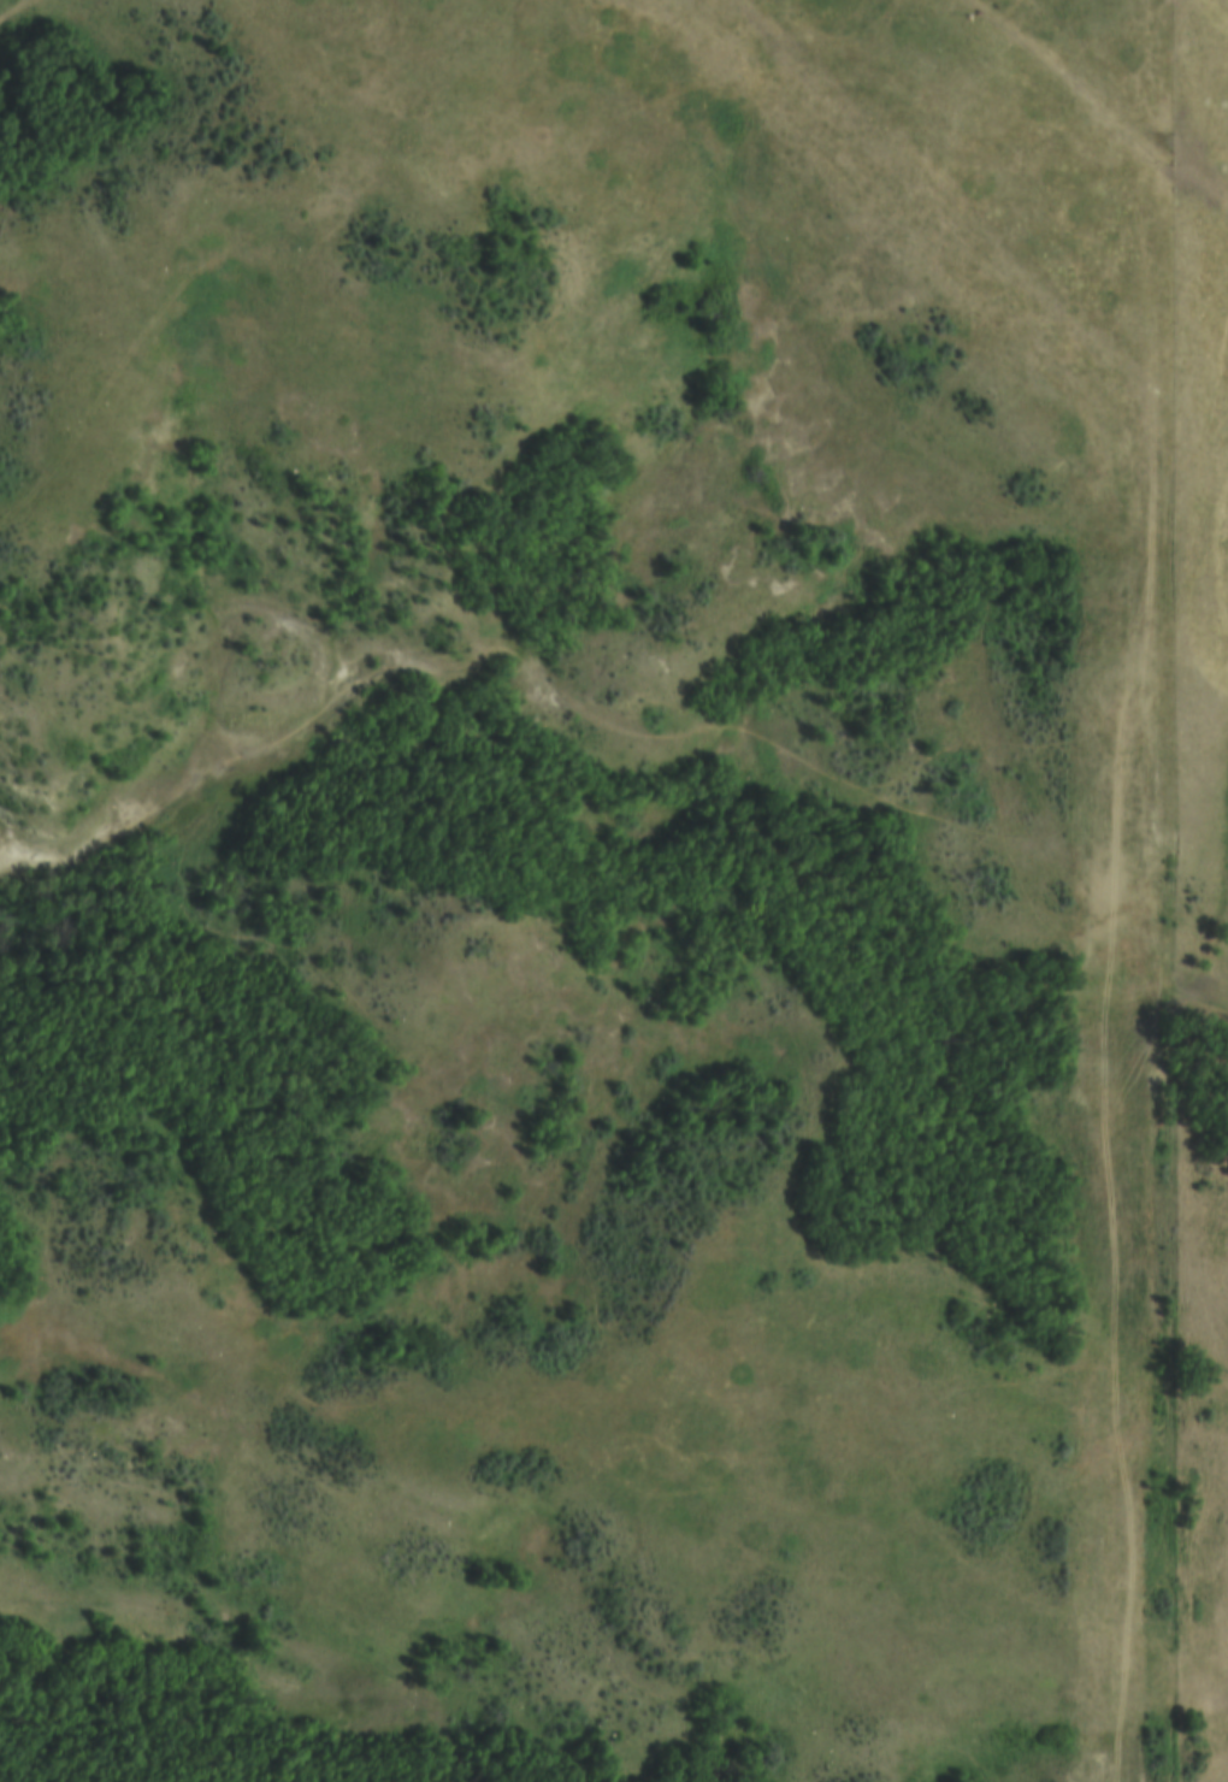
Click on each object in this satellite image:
road: (1103, 101)

